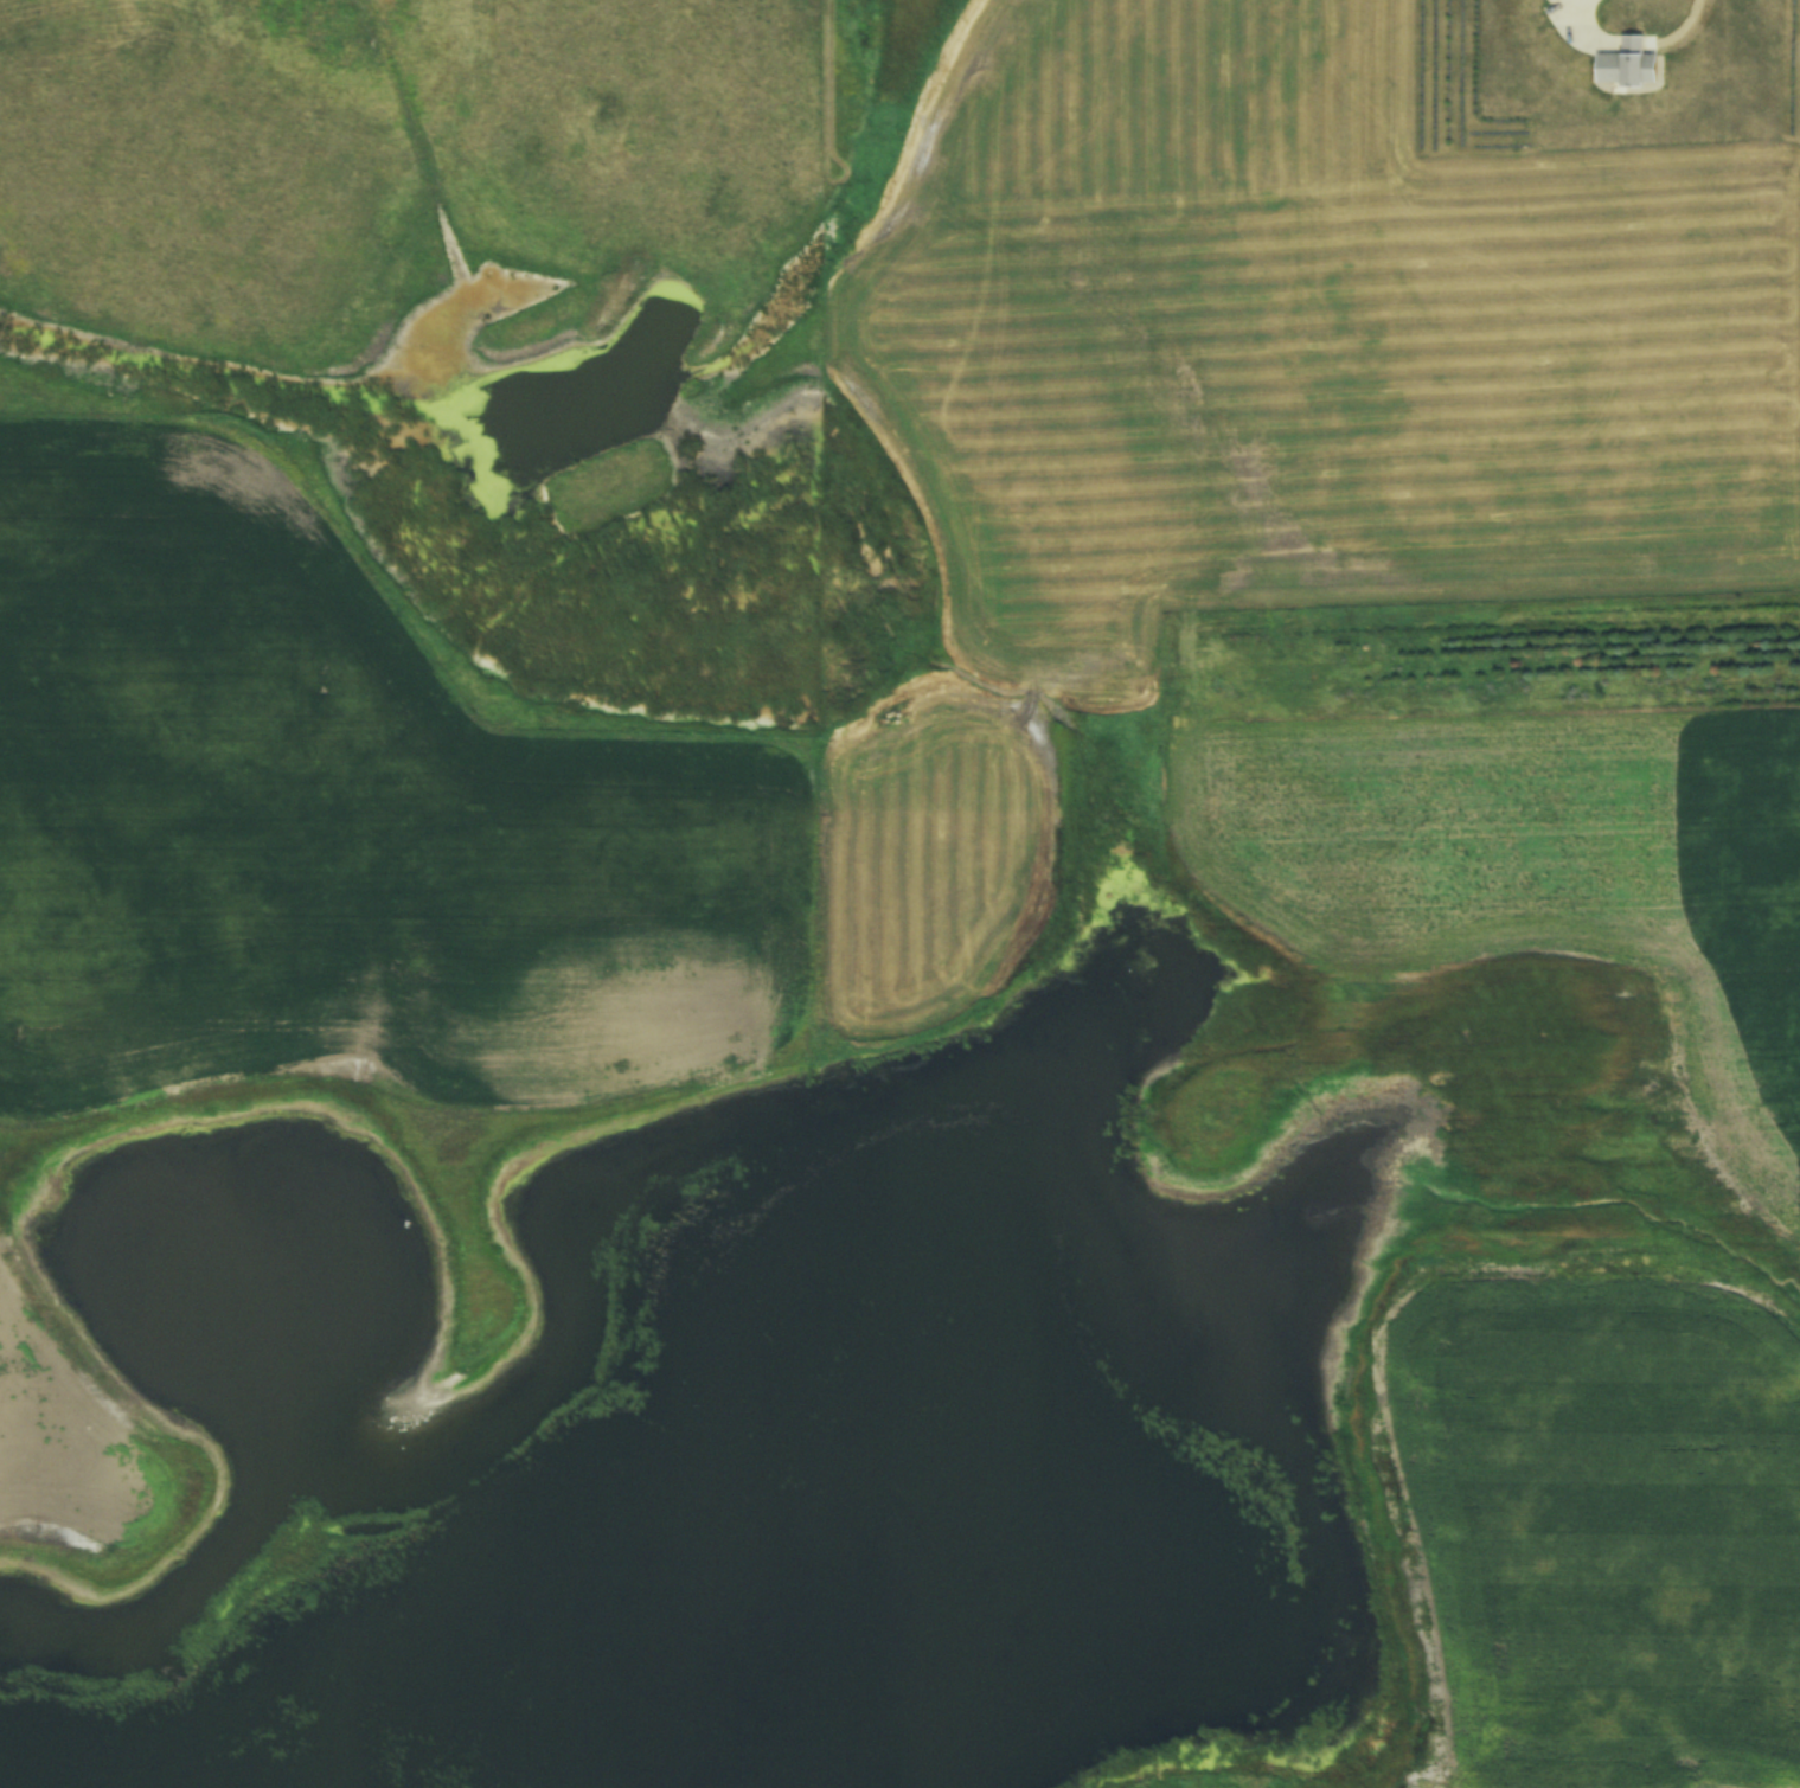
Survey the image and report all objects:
building: (1555, 0)
road: (1589, 15)
building: (1631, 64)

